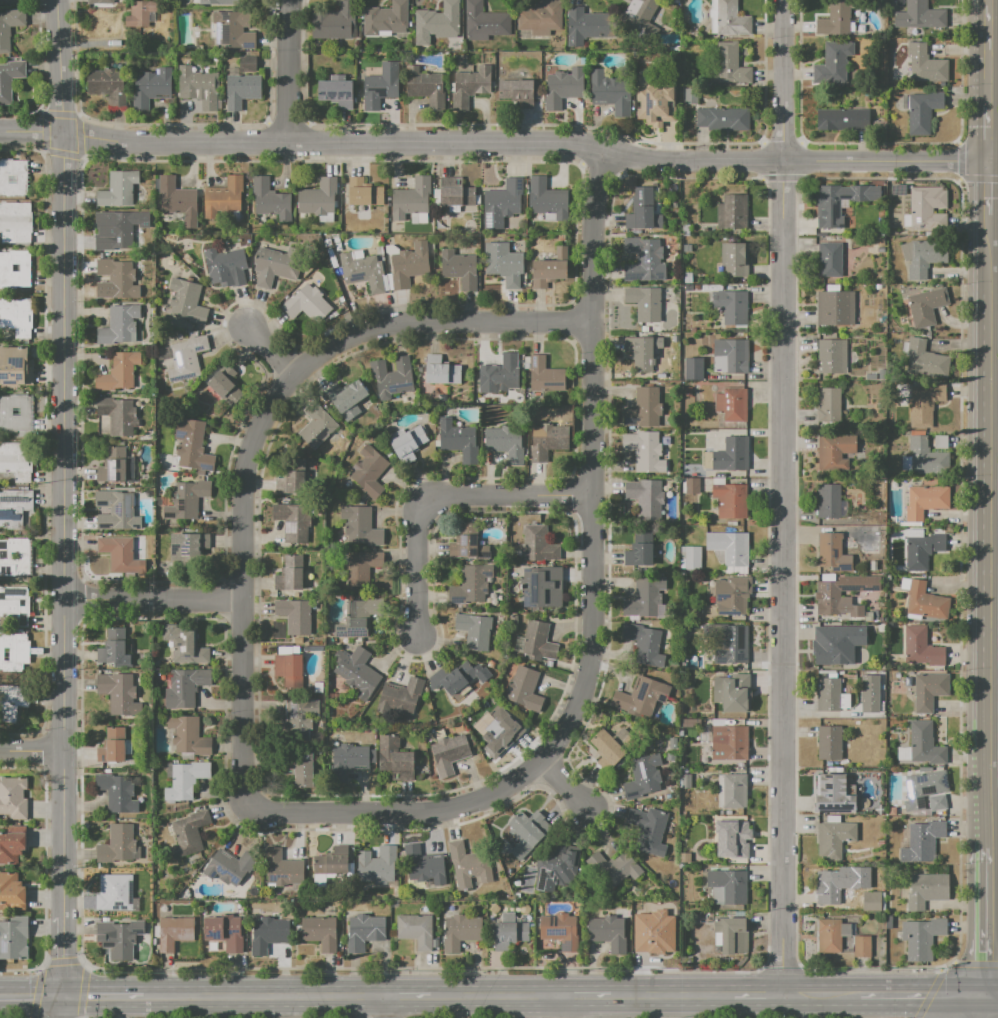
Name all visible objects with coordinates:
building: (4, 1)
building: (100, 1)
building: (216, 2)
building: (140, 12)
building: (638, 14)
building: (919, 16)
building: (385, 18)
building: (541, 18)
building: (728, 18)
building: (835, 18)
building: (438, 20)
building: (334, 21)
building: (484, 22)
building: (584, 26)
building: (8, 27)
building: (234, 29)
road: (984, 53)
building: (835, 62)
building: (247, 64)
building: (925, 64)
building: (730, 65)
road: (289, 72)
building: (107, 86)
building: (380, 86)
building: (469, 86)
building: (149, 87)
building: (198, 87)
building: (424, 87)
building: (562, 88)
building: (239, 89)
building: (5, 91)
building: (515, 91)
building: (335, 92)
building: (609, 92)
building: (689, 95)
building: (654, 104)
building: (922, 111)
building: (721, 117)
building: (843, 120)
road: (984, 133)
road: (499, 143)
building: (13, 178)
road: (984, 186)
building: (120, 190)
building: (362, 192)
building: (453, 193)
building: (545, 196)
building: (223, 197)
building: (176, 198)
building: (317, 198)
building: (411, 198)
building: (269, 200)
building: (501, 203)
building: (840, 203)
building: (925, 211)
building: (639, 212)
building: (734, 212)
building: (15, 223)
building: (117, 231)
building: (925, 257)
building: (829, 259)
building: (643, 260)
building: (734, 260)
building: (502, 264)
building: (227, 265)
building: (409, 265)
building: (274, 266)
building: (459, 268)
building: (547, 268)
building: (15, 269)
building: (361, 271)
building: (118, 277)
building: (185, 300)
building: (644, 302)
building: (305, 305)
building: (730, 307)
building: (925, 307)
building: (834, 308)
building: (16, 317)
building: (118, 325)
road: (271, 352)
building: (639, 353)
building: (731, 354)
building: (831, 357)
building: (183, 358)
building: (929, 359)
building: (14, 367)
building: (692, 369)
building: (440, 370)
building: (118, 372)
building: (500, 374)
building: (544, 376)
building: (392, 377)
building: (215, 392)
building: (348, 399)
building: (732, 404)
building: (924, 404)
building: (828, 406)
building: (643, 409)
building: (15, 413)
building: (117, 415)
building: (317, 427)
road: (257, 433)
building: (459, 441)
building: (547, 442)
building: (940, 442)
building: (408, 444)
building: (505, 444)
building: (192, 445)
building: (644, 451)
building: (833, 453)
building: (730, 455)
building: (925, 458)
road: (63, 459)
building: (16, 461)
building: (112, 465)
building: (369, 472)
building: (292, 481)
building: (692, 486)
road: (439, 495)
building: (644, 495)
road: (782, 495)
building: (187, 499)
building: (730, 501)
building: (828, 501)
building: (925, 502)
building: (14, 506)
building: (116, 510)
building: (873, 518)
building: (293, 522)
building: (360, 526)
road: (984, 528)
building: (870, 543)
building: (468, 544)
building: (187, 545)
building: (538, 545)
building: (727, 546)
building: (639, 550)
building: (922, 550)
building: (832, 552)
building: (121, 555)
building: (14, 557)
building: (692, 558)
building: (873, 565)
building: (362, 567)
building: (290, 574)
building: (471, 584)
building: (542, 588)
building: (730, 597)
building: (645, 599)
road: (153, 600)
building: (833, 600)
building: (925, 602)
building: (14, 606)
road: (591, 611)
building: (295, 616)
building: (359, 617)
building: (872, 617)
building: (475, 631)
building: (538, 642)
building: (184, 645)
building: (644, 645)
building: (829, 646)
building: (920, 646)
building: (730, 647)
building: (115, 649)
building: (14, 652)
building: (289, 671)
building: (357, 672)
building: (454, 678)
building: (185, 686)
building: (523, 689)
building: (928, 691)
building: (119, 693)
building: (732, 693)
building: (827, 694)
building: (869, 694)
building: (400, 696)
building: (641, 697)
building: (12, 703)
building: (299, 719)
building: (499, 726)
building: (188, 736)
building: (728, 743)
building: (829, 745)
building: (113, 746)
building: (924, 746)
building: (607, 751)
road: (31, 753)
building: (449, 753)
building: (395, 759)
building: (351, 760)
building: (302, 769)
building: (642, 777)
building: (184, 779)
building: (685, 781)
road: (565, 784)
building: (923, 789)
building: (733, 791)
building: (117, 793)
building: (833, 796)
building: (13, 798)
building: (937, 803)
building: (649, 830)
building: (524, 831)
building: (189, 833)
building: (834, 839)
building: (735, 841)
building: (922, 841)
building: (117, 844)
building: (11, 847)
building: (377, 865)
building: (424, 865)
building: (469, 865)
building: (229, 866)
building: (329, 866)
building: (282, 868)
building: (557, 870)
building: (612, 870)
building: (729, 886)
building: (828, 888)
building: (120, 891)
building: (926, 891)
building: (12, 892)
building: (871, 901)
road: (986, 918)
building: (653, 924)
building: (844, 929)
building: (416, 930)
building: (224, 931)
building: (365, 931)
building: (461, 931)
building: (716, 931)
road: (63, 932)
building: (174, 932)
building: (321, 932)
building: (560, 932)
building: (509, 933)
building: (268, 934)
building: (608, 934)
building: (730, 935)
building: (14, 937)
building: (829, 937)
building: (119, 938)
building: (921, 938)
building: (657, 941)
building: (861, 947)
traffic signals: (63, 959)
road: (952, 961)
road: (976, 963)
road: (61, 969)
road: (940, 970)
road: (582, 991)
road: (672, 991)
road: (757, 991)
road: (492, 992)
road: (821, 992)
road: (895, 992)
road: (958, 992)
road: (270, 993)
road: (405, 993)
traffic signals: (987, 993)
road: (992, 993)
road: (28, 994)
traffic signals: (32, 994)
traffic signals: (86, 994)
road: (109, 994)
road: (928, 995)
road: (379, 1005)
road: (554, 1005)
road: (967, 1005)
road: (976, 1005)
road: (983, 1005)
road: (54, 1006)

